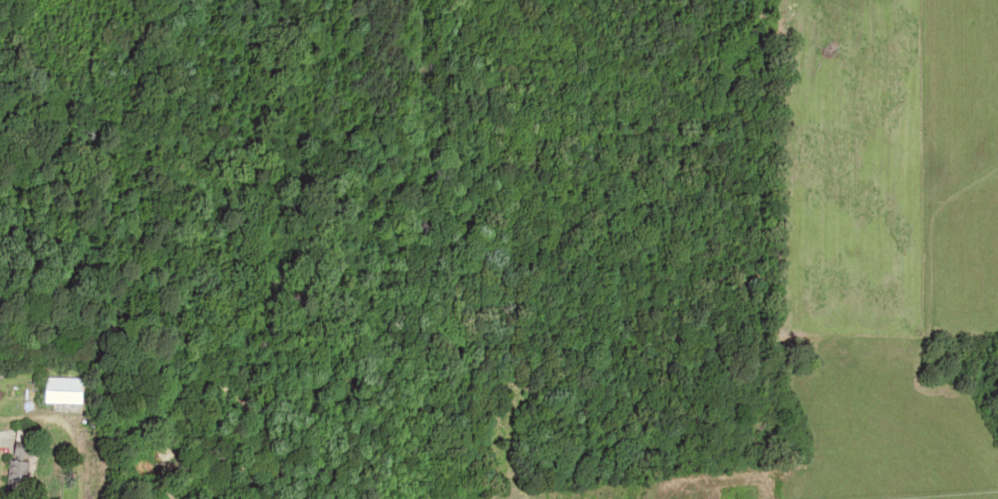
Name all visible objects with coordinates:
building: (52, 390)
building: (8, 474)

